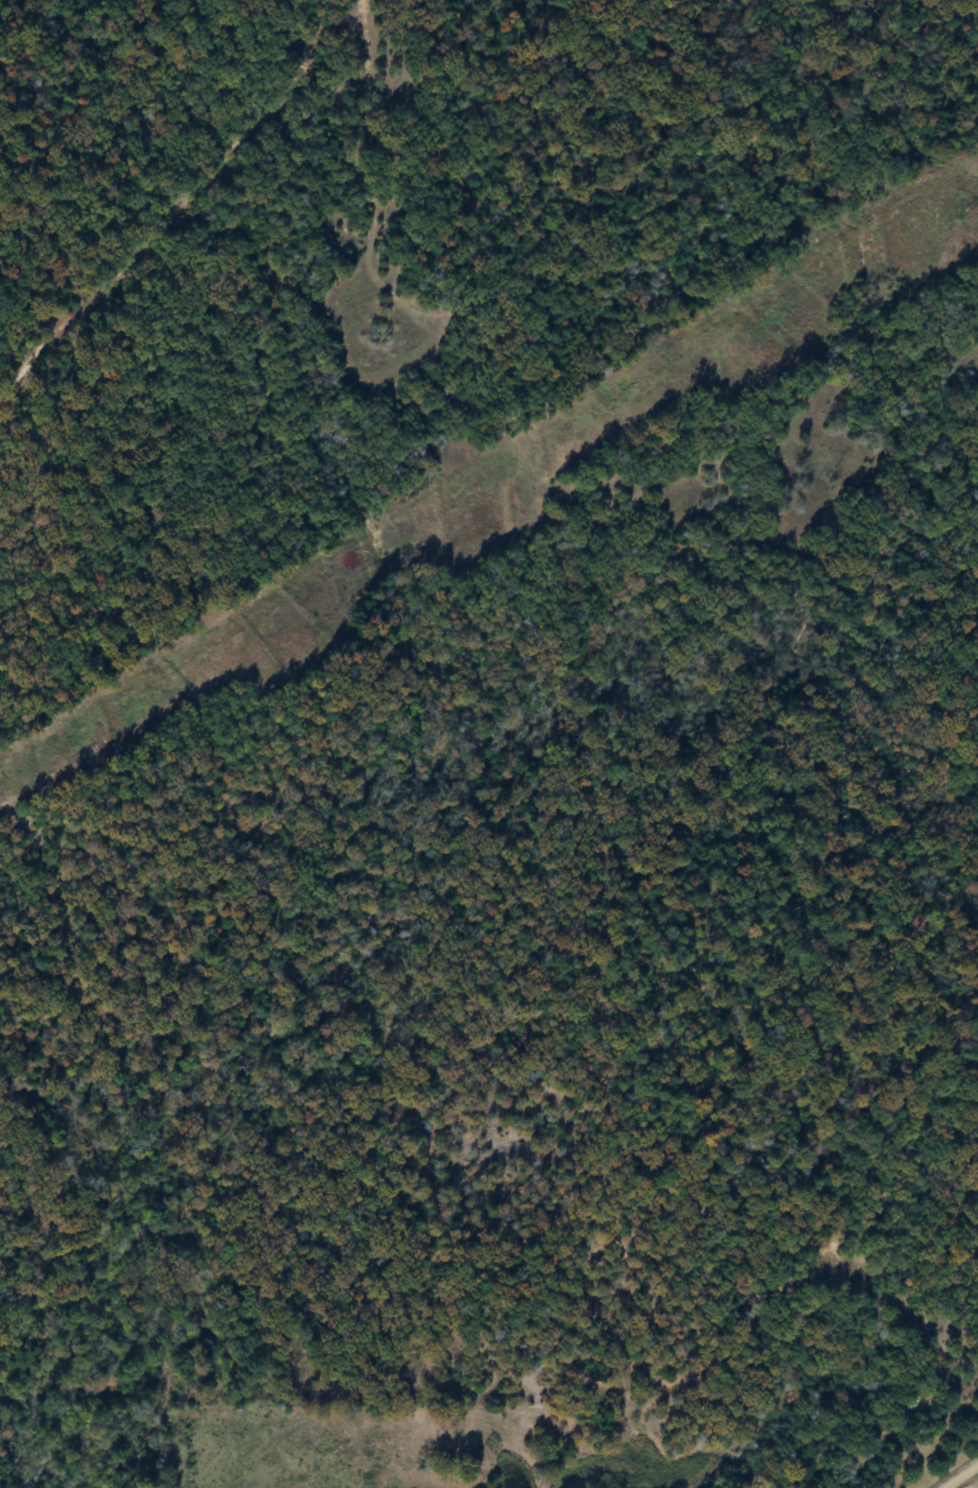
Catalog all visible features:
road: (965, 1479)

